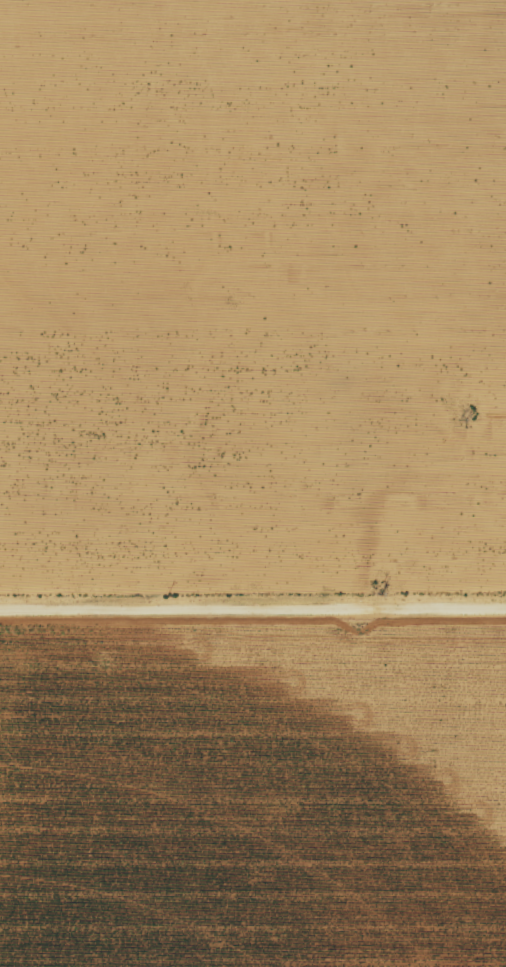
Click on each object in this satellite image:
road: (253, 613)

